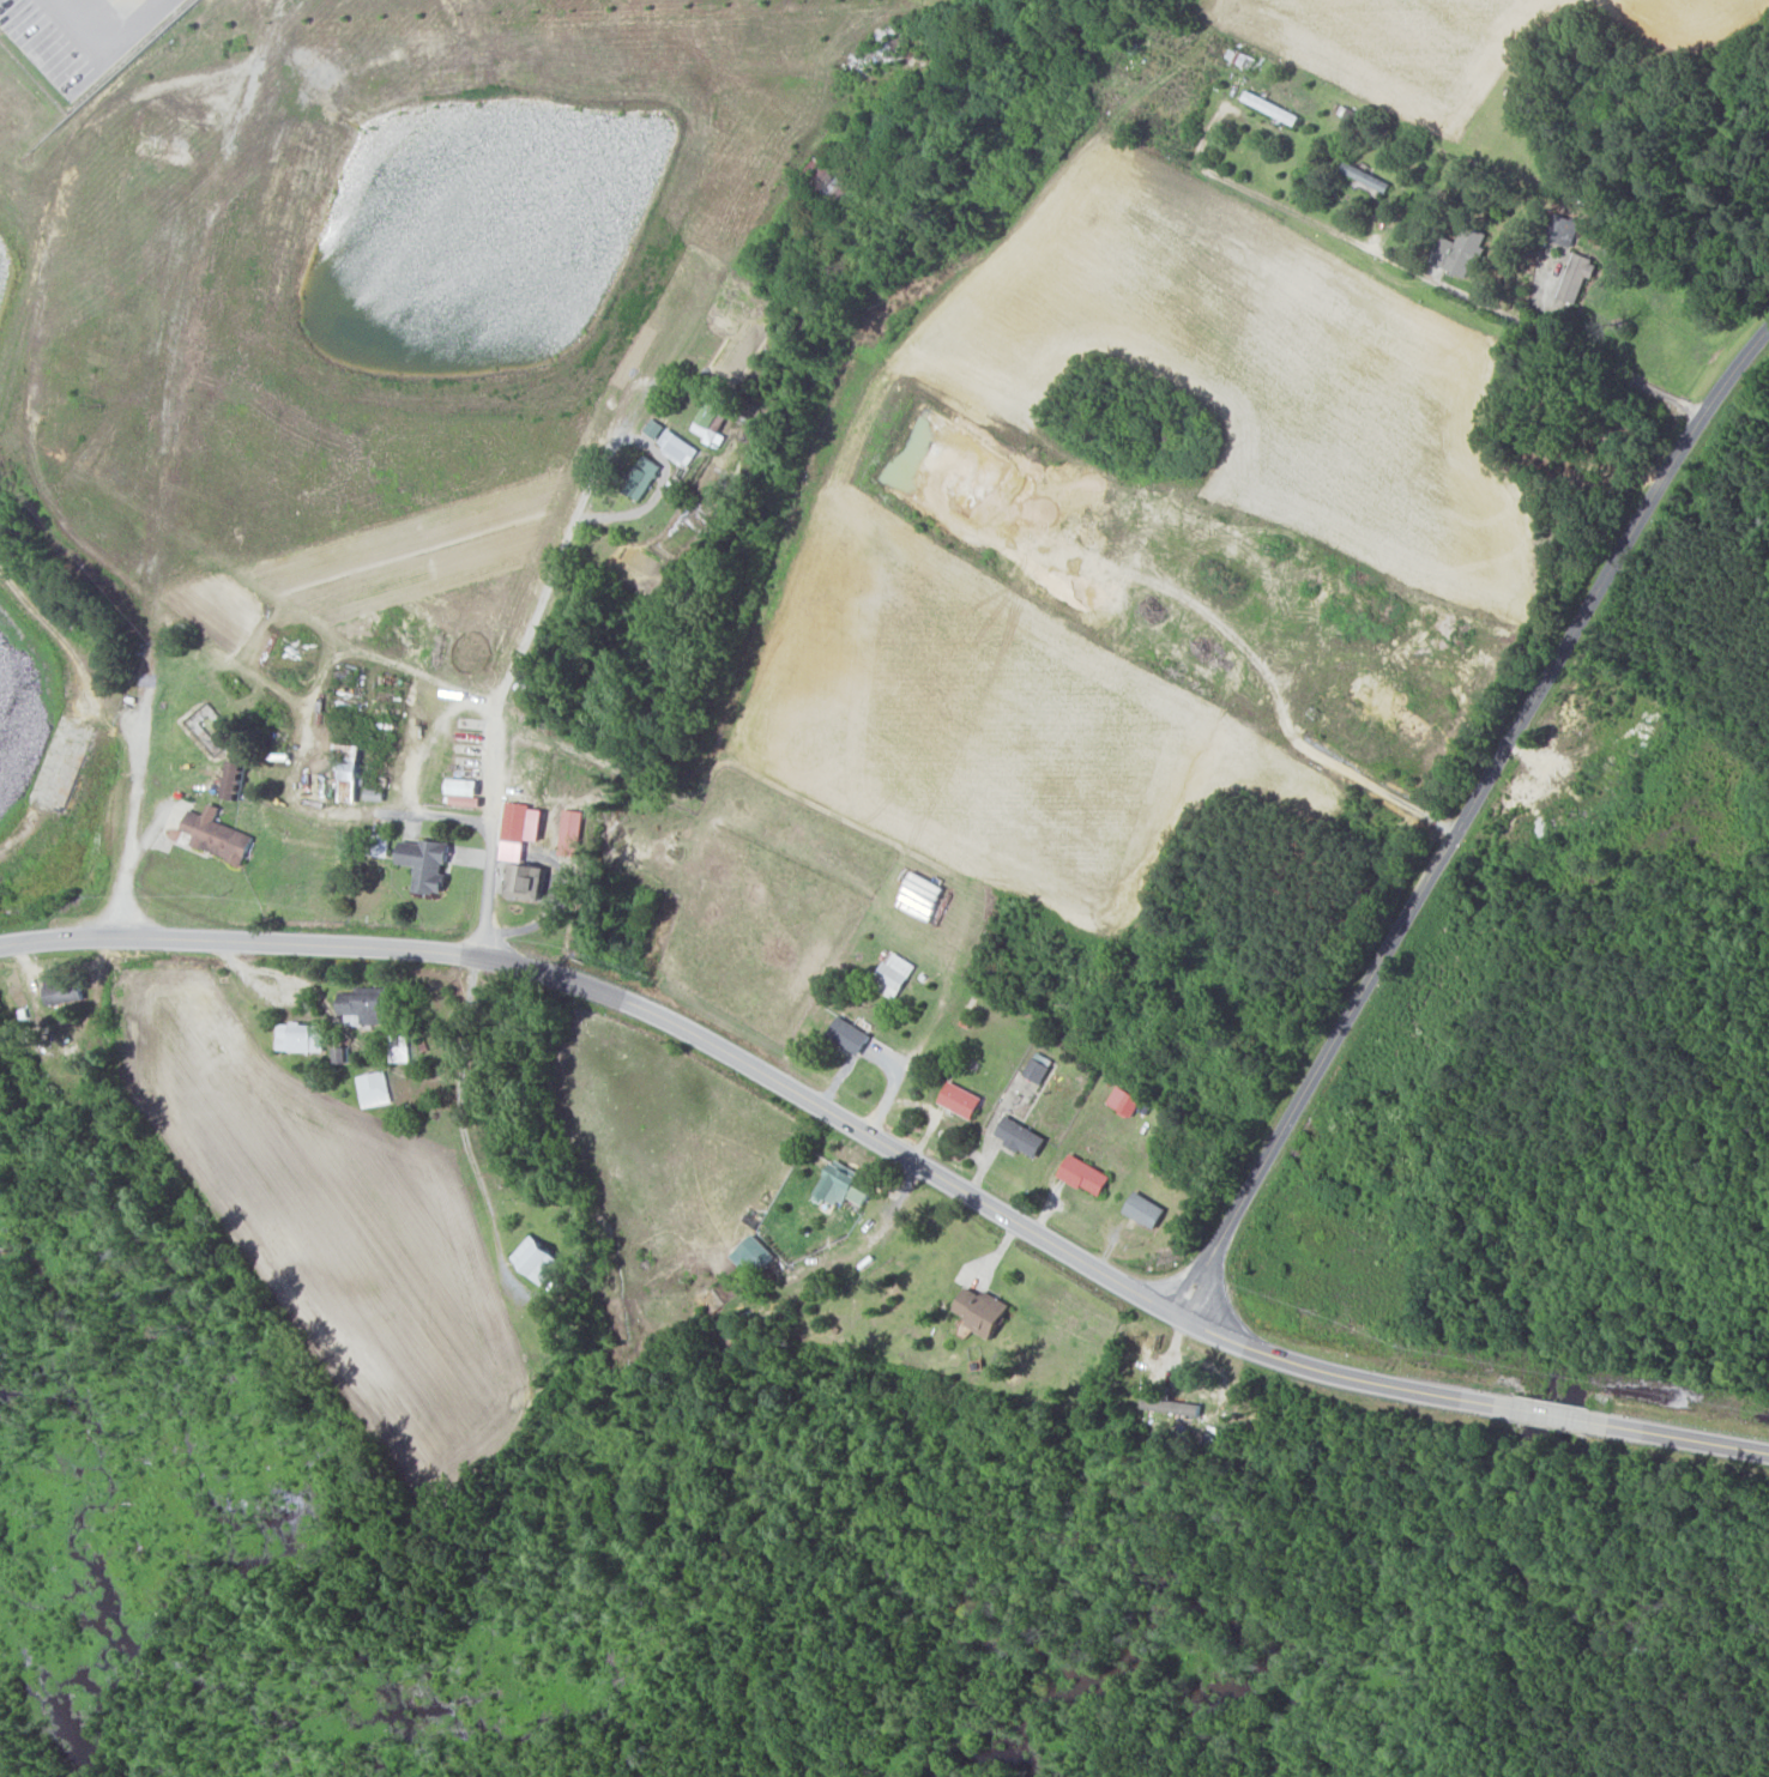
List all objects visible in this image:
road: (117, 41)
road: (218, 71)
building: (1562, 230)
building: (1461, 252)
building: (1575, 278)
building: (708, 423)
road: (639, 424)
building: (675, 448)
building: (641, 479)
road: (815, 479)
road: (157, 641)
road: (1496, 687)
road: (409, 688)
building: (346, 770)
building: (233, 779)
road: (360, 815)
building: (512, 822)
road: (1468, 822)
building: (568, 832)
building: (216, 835)
building: (425, 863)
building: (524, 881)
building: (61, 990)
road: (959, 999)
building: (362, 1007)
building: (847, 1035)
building: (298, 1036)
building: (1037, 1066)
building: (372, 1089)
building: (959, 1100)
building: (1123, 1101)
building: (1019, 1136)
road: (892, 1150)
building: (1083, 1175)
building: (843, 1185)
building: (1143, 1210)
building: (751, 1256)
building: (537, 1259)
building: (979, 1311)

